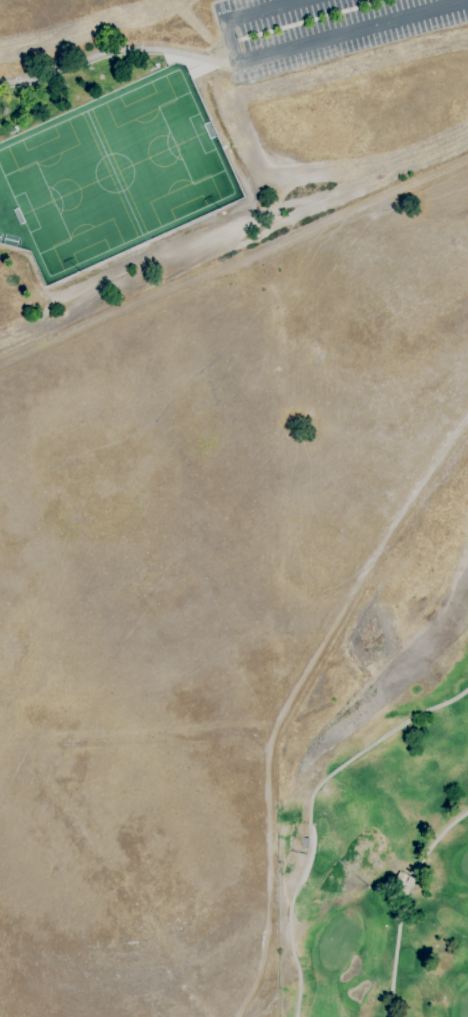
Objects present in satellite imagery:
road: (295, 50)
park: (201, 132)
park: (212, 584)
road: (308, 812)
park: (379, 835)
road: (401, 902)

